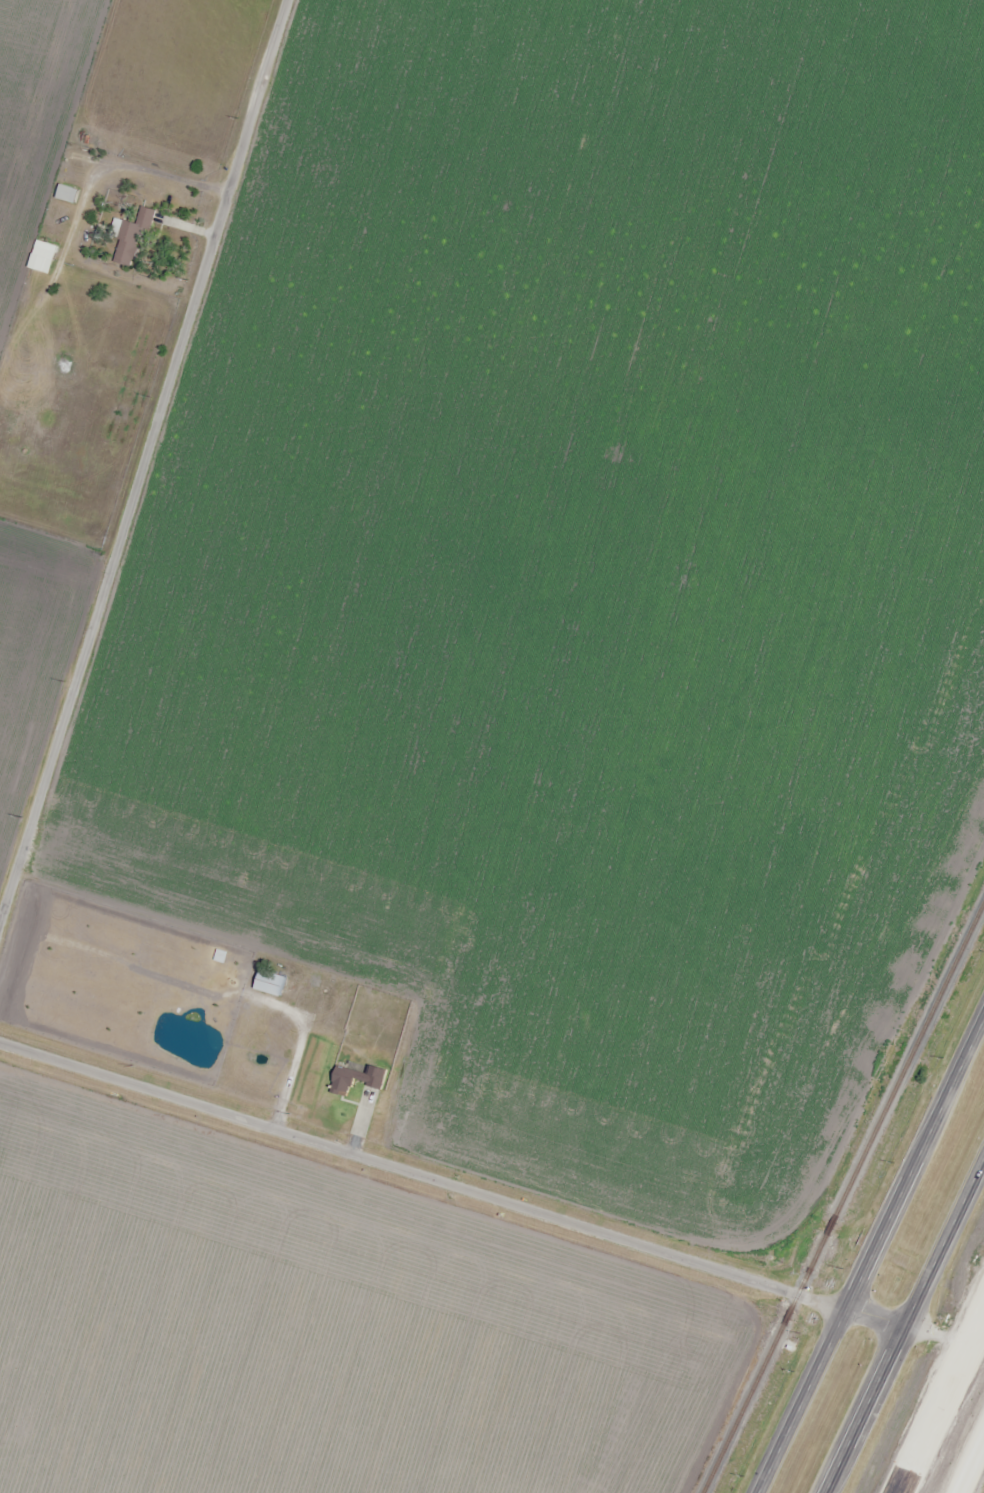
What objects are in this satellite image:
road: (145, 498)
road: (914, 1167)
road: (422, 1171)
railway: (845, 1195)
road: (982, 1303)
road: (982, 1304)
road: (904, 1325)
road: (937, 1400)
road: (806, 1402)
road: (970, 1463)

